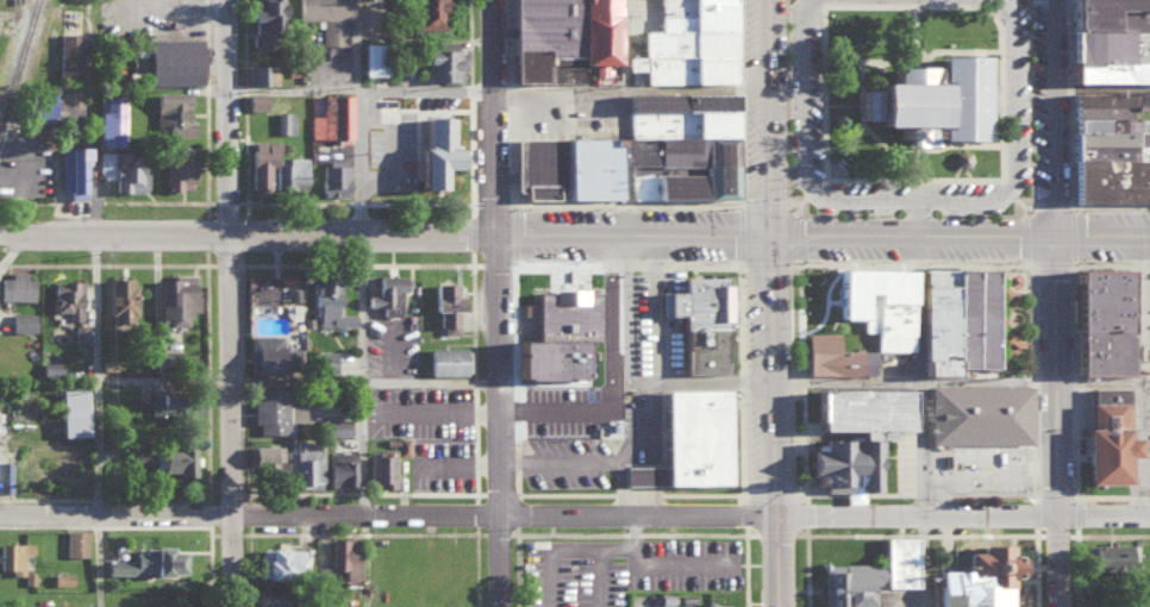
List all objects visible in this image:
road: (818, 1)
road: (998, 7)
building: (425, 12)
building: (325, 18)
building: (261, 21)
building: (558, 38)
road: (511, 39)
building: (1107, 39)
road: (244, 40)
building: (685, 43)
building: (67, 54)
building: (370, 58)
building: (171, 60)
building: (442, 61)
building: (261, 73)
road: (245, 88)
road: (361, 89)
railway: (26, 90)
road: (510, 90)
road: (530, 92)
building: (926, 99)
building: (252, 100)
road: (738, 101)
road: (1069, 101)
building: (38, 104)
road: (429, 107)
building: (171, 112)
road: (229, 115)
building: (332, 115)
road: (495, 115)
road: (768, 115)
road: (1049, 115)
road: (415, 117)
building: (107, 119)
building: (285, 120)
road: (508, 134)
building: (1106, 146)
building: (431, 151)
road: (471, 151)
building: (636, 151)
building: (260, 164)
building: (176, 165)
building: (71, 168)
building: (121, 169)
building: (289, 171)
road: (510, 174)
building: (332, 176)
road: (902, 177)
road: (813, 186)
road: (1006, 187)
road: (511, 192)
road: (913, 199)
road: (245, 200)
road: (360, 201)
road: (419, 201)
road: (493, 202)
road: (763, 202)
road: (1021, 202)
road: (627, 204)
road: (1110, 204)
road: (790, 208)
road: (1024, 211)
road: (917, 217)
road: (471, 231)
road: (385, 232)
traffic signals: (769, 233)
road: (960, 233)
road: (514, 249)
road: (240, 258)
road: (1071, 258)
road: (626, 261)
road: (914, 261)
road: (1111, 262)
road: (295, 263)
road: (357, 263)
road: (421, 263)
road: (763, 263)
building: (17, 286)
building: (265, 289)
building: (387, 292)
building: (65, 296)
building: (119, 298)
building: (174, 298)
building: (876, 302)
building: (327, 303)
road: (357, 303)
building: (444, 306)
road: (471, 312)
road: (1073, 317)
road: (240, 318)
road: (739, 318)
road: (800, 318)
building: (954, 318)
road: (1031, 318)
building: (21, 320)
building: (1096, 320)
building: (698, 321)
road: (514, 330)
building: (81, 333)
building: (558, 334)
building: (268, 352)
building: (827, 355)
building: (321, 359)
building: (448, 359)
road: (650, 365)
road: (915, 373)
road: (95, 374)
road: (770, 374)
road: (230, 375)
road: (912, 377)
road: (740, 378)
road: (1032, 378)
road: (240, 380)
road: (363, 381)
road: (800, 381)
road: (1101, 381)
road: (474, 382)
building: (1105, 393)
road: (1073, 400)
road: (514, 408)
building: (69, 411)
building: (274, 411)
building: (979, 413)
road: (499, 419)
road: (1032, 420)
road: (1057, 420)
building: (333, 426)
road: (650, 431)
road: (515, 433)
building: (851, 433)
building: (692, 434)
road: (242, 439)
building: (1104, 442)
road: (802, 444)
building: (401, 445)
building: (133, 452)
building: (265, 456)
road: (558, 457)
building: (174, 459)
road: (517, 459)
building: (305, 464)
building: (339, 467)
building: (381, 468)
road: (990, 469)
building: (640, 474)
road: (742, 480)
road: (618, 487)
road: (1075, 487)
road: (299, 492)
road: (473, 492)
road: (496, 492)
road: (554, 492)
road: (862, 492)
road: (361, 493)
road: (636, 493)
road: (1136, 495)
road: (1148, 495)
road: (743, 511)
road: (806, 514)
road: (846, 514)
road: (1036, 514)
traffic signals: (774, 515)
road: (387, 518)
building: (74, 542)
road: (575, 547)
building: (12, 555)
building: (344, 555)
building: (1101, 556)
building: (280, 561)
road: (671, 561)
road: (774, 561)
building: (898, 561)
road: (921, 561)
road: (96, 562)
building: (144, 562)
road: (232, 562)
building: (61, 577)
building: (976, 578)
building: (848, 583)
building: (267, 597)
building: (326, 600)
building: (167, 605)
building: (707, 605)

